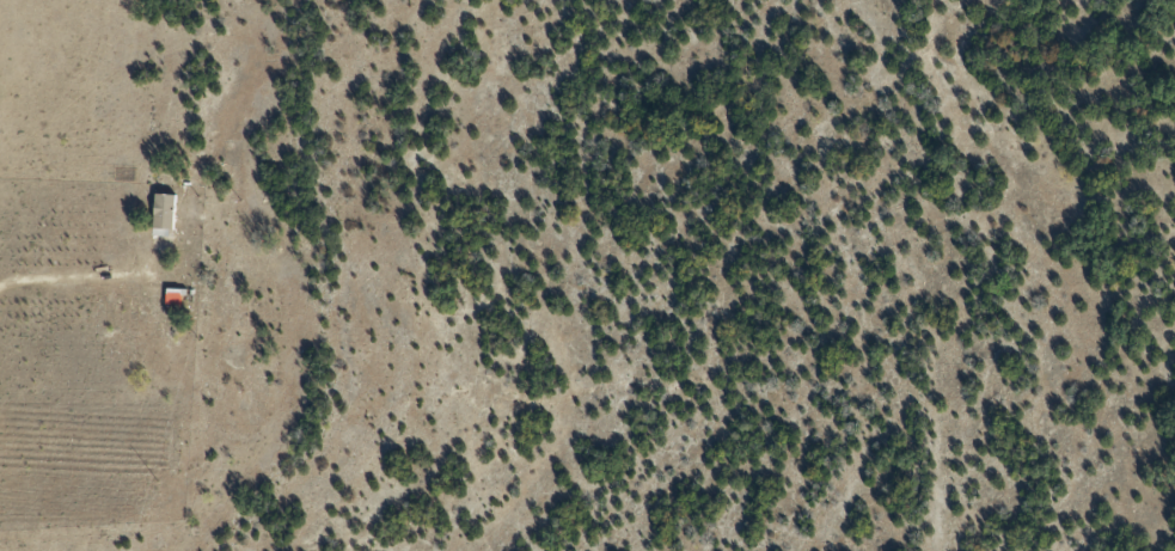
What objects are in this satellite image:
building: (160, 213)

